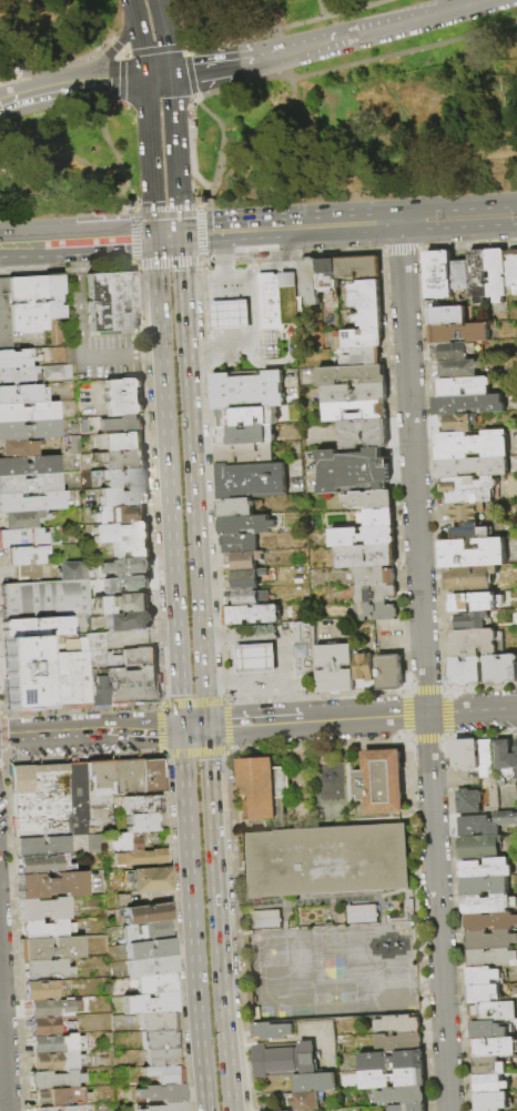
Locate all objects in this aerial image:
road: (159, 3)
road: (463, 7)
road: (318, 8)
road: (276, 14)
road: (189, 19)
road: (75, 20)
road: (110, 20)
road: (287, 26)
road: (23, 29)
road: (346, 37)
road: (139, 38)
road: (165, 40)
road: (187, 42)
road: (116, 47)
road: (197, 47)
road: (114, 48)
road: (153, 51)
road: (67, 59)
road: (9, 61)
road: (240, 63)
road: (356, 63)
road: (199, 70)
road: (20, 71)
road: (189, 71)
road: (38, 74)
traffic signals: (171, 74)
road: (158, 75)
road: (118, 78)
traffic signals: (144, 78)
road: (10, 80)
road: (110, 80)
road: (172, 91)
road: (38, 92)
road: (145, 92)
park: (252, 103)
road: (53, 114)
road: (3, 122)
road: (263, 123)
road: (190, 147)
road: (113, 152)
road: (219, 152)
road: (60, 153)
road: (175, 158)
road: (150, 171)
road: (456, 206)
road: (165, 208)
road: (131, 211)
road: (179, 221)
road: (339, 225)
road: (456, 230)
road: (230, 231)
road: (201, 233)
road: (166, 234)
traffic signals: (180, 234)
traffic signals: (154, 235)
road: (105, 238)
road: (135, 238)
road: (28, 242)
road: (169, 263)
road: (277, 269)
building: (355, 269)
building: (510, 271)
building: (496, 272)
building: (437, 273)
building: (459, 274)
building: (326, 275)
building: (477, 277)
building: (308, 281)
road: (217, 286)
building: (364, 295)
building: (52, 296)
road: (79, 299)
building: (111, 302)
building: (276, 302)
building: (26, 304)
building: (446, 314)
building: (4, 316)
building: (227, 319)
gas station: (227, 319)
building: (367, 320)
building: (459, 331)
building: (361, 340)
road: (250, 344)
building: (454, 349)
road: (148, 354)
road: (109, 355)
building: (13, 357)
building: (361, 357)
building: (459, 367)
building: (55, 371)
building: (19, 375)
building: (348, 376)
building: (462, 385)
building: (245, 391)
building: (21, 393)
building: (354, 394)
building: (122, 396)
building: (467, 404)
building: (28, 411)
building: (335, 413)
building: (245, 417)
road: (410, 420)
building: (459, 421)
building: (122, 423)
building: (83, 426)
building: (29, 430)
building: (244, 435)
building: (362, 435)
building: (119, 442)
building: (74, 444)
building: (470, 444)
building: (17, 447)
building: (242, 454)
building: (122, 459)
building: (29, 464)
building: (470, 466)
building: (352, 472)
building: (123, 477)
road: (193, 481)
building: (250, 481)
road: (168, 482)
building: (29, 483)
building: (469, 488)
building: (122, 496)
building: (367, 501)
building: (32, 502)
building: (235, 508)
building: (465, 511)
building: (120, 514)
building: (20, 518)
building: (375, 518)
building: (250, 526)
building: (464, 531)
building: (120, 532)
building: (22, 537)
building: (361, 537)
building: (237, 545)
building: (131, 549)
building: (472, 553)
building: (24, 555)
building: (361, 557)
building: (244, 562)
building: (126, 567)
building: (72, 570)
building: (28, 572)
building: (468, 576)
building: (373, 577)
building: (245, 579)
building: (374, 594)
building: (247, 598)
building: (44, 599)
building: (479, 600)
building: (133, 603)
building: (104, 605)
building: (374, 613)
building: (516, 615)
building: (250, 616)
building: (469, 619)
building: (130, 620)
building: (37, 626)
road: (287, 638)
building: (475, 642)
building: (95, 650)
building: (302, 650)
building: (139, 655)
building: (254, 657)
gas station: (268, 658)
building: (335, 668)
building: (500, 668)
building: (464, 670)
building: (28, 671)
building: (389, 671)
building: (363, 673)
building: (70, 679)
building: (131, 685)
building: (98, 690)
road: (472, 711)
road: (365, 718)
road: (267, 724)
road: (219, 726)
road: (194, 727)
traffic signals: (207, 727)
traffic signals: (182, 728)
road: (91, 733)
road: (207, 744)
building: (465, 754)
building: (321, 756)
building: (515, 757)
building: (484, 758)
building: (503, 758)
building: (151, 775)
building: (99, 776)
building: (125, 776)
building: (377, 782)
building: (261, 788)
building: (77, 791)
building: (499, 798)
building: (39, 800)
building: (466, 800)
building: (142, 804)
building: (140, 821)
building: (485, 822)
building: (77, 828)
building: (125, 840)
building: (93, 842)
building: (41, 846)
building: (477, 847)
building: (140, 857)
building: (323, 860)
building: (39, 863)
road: (435, 863)
building: (484, 868)
building: (149, 879)
building: (50, 885)
building: (483, 885)
building: (123, 900)
building: (487, 903)
building: (43, 908)
building: (146, 913)
building: (361, 913)
building: (264, 918)
road: (191, 919)
building: (488, 921)
building: (44, 929)
building: (148, 931)
road: (217, 936)
building: (488, 939)
building: (50, 948)
building: (150, 948)
building: (490, 957)
building: (151, 966)
building: (47, 967)
building: (485, 976)
building: (154, 983)
building: (40, 989)
building: (483, 993)
building: (149, 1002)
building: (44, 1007)
building: (477, 1012)
building: (156, 1021)
building: (396, 1023)
building: (44, 1024)
building: (485, 1029)
building: (270, 1031)
building: (159, 1039)
building: (396, 1041)
building: (54, 1042)
building: (494, 1047)
building: (162, 1057)
building: (283, 1059)
building: (55, 1060)
building: (389, 1060)
building: (487, 1065)
building: (164, 1073)
road: (1, 1074)
building: (391, 1078)
building: (53, 1079)
building: (312, 1082)
building: (488, 1083)
building: (161, 1092)
building: (401, 1094)
building: (59, 1095)
building: (305, 1100)
building: (489, 1101)
building: (61, 1107)
building: (165, 1107)
building: (406, 1107)
building: (287, 1110)

